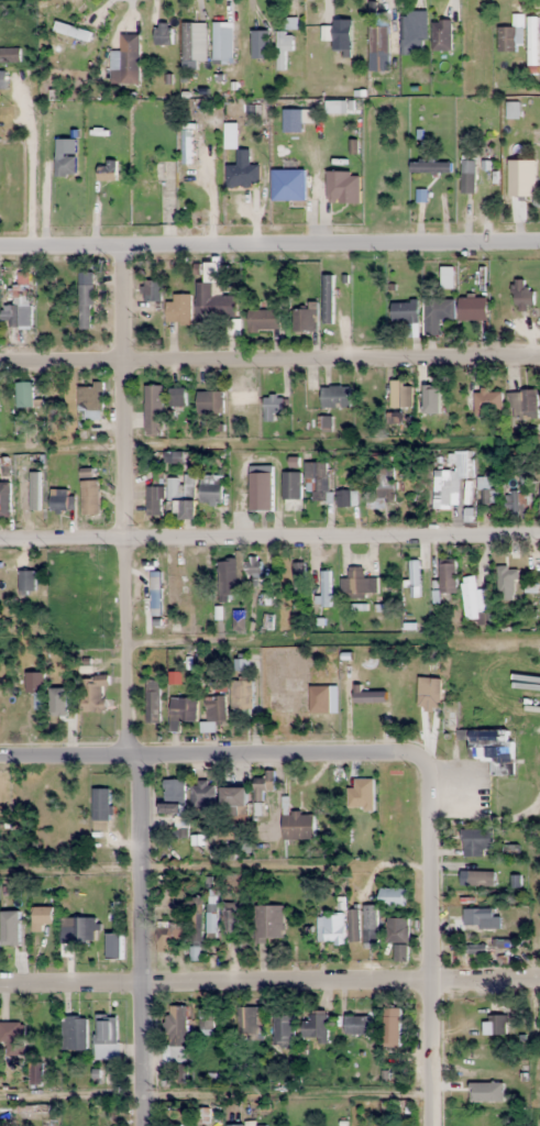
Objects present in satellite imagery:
building: (163, 34)
building: (442, 34)
building: (339, 35)
building: (406, 35)
building: (378, 40)
building: (532, 41)
building: (195, 42)
building: (223, 43)
building: (261, 44)
building: (284, 47)
building: (10, 54)
building: (126, 54)
building: (2, 79)
building: (187, 142)
building: (66, 166)
building: (430, 167)
building: (243, 172)
building: (147, 174)
building: (467, 176)
building: (527, 181)
building: (288, 185)
building: (343, 187)
road: (269, 232)
building: (152, 289)
building: (522, 295)
building: (328, 298)
building: (86, 299)
building: (216, 306)
building: (18, 308)
building: (178, 308)
building: (473, 308)
building: (405, 311)
building: (438, 313)
building: (264, 319)
building: (305, 319)
road: (269, 357)
building: (24, 394)
building: (176, 396)
building: (335, 396)
building: (210, 401)
building: (487, 401)
building: (90, 402)
building: (521, 404)
building: (433, 405)
building: (274, 407)
building: (153, 409)
building: (538, 454)
building: (173, 456)
building: (463, 463)
building: (317, 479)
building: (261, 487)
building: (384, 487)
building: (89, 488)
building: (211, 488)
building: (445, 489)
building: (291, 490)
building: (487, 493)
road: (126, 495)
building: (181, 495)
building: (348, 497)
building: (4, 498)
building: (62, 499)
building: (155, 499)
building: (26, 503)
building: (517, 503)
road: (269, 538)
building: (192, 562)
building: (252, 564)
building: (448, 576)
building: (228, 577)
building: (298, 577)
building: (26, 581)
building: (506, 581)
building: (357, 582)
building: (324, 587)
building: (476, 601)
building: (239, 619)
building: (93, 692)
building: (242, 692)
building: (153, 700)
building: (183, 709)
building: (216, 709)
building: (65, 717)
building: (493, 749)
road: (211, 755)
building: (262, 785)
building: (200, 794)
building: (174, 796)
building: (235, 798)
building: (101, 808)
building: (359, 821)
building: (298, 825)
building: (477, 841)
building: (480, 877)
building: (395, 897)
building: (212, 915)
building: (478, 916)
building: (230, 917)
building: (43, 918)
building: (197, 921)
building: (268, 924)
building: (354, 925)
building: (370, 925)
building: (332, 928)
building: (85, 929)
building: (397, 929)
building: (168, 935)
road: (428, 937)
building: (302, 939)
road: (142, 941)
building: (12, 942)
building: (503, 942)
building: (113, 946)
building: (474, 948)
building: (400, 952)
road: (269, 980)
building: (249, 1019)
building: (496, 1024)
building: (359, 1025)
building: (316, 1026)
building: (392, 1026)
building: (284, 1029)
building: (74, 1033)
building: (178, 1033)
building: (12, 1036)
building: (106, 1036)
building: (482, 1083)
building: (476, 1118)

